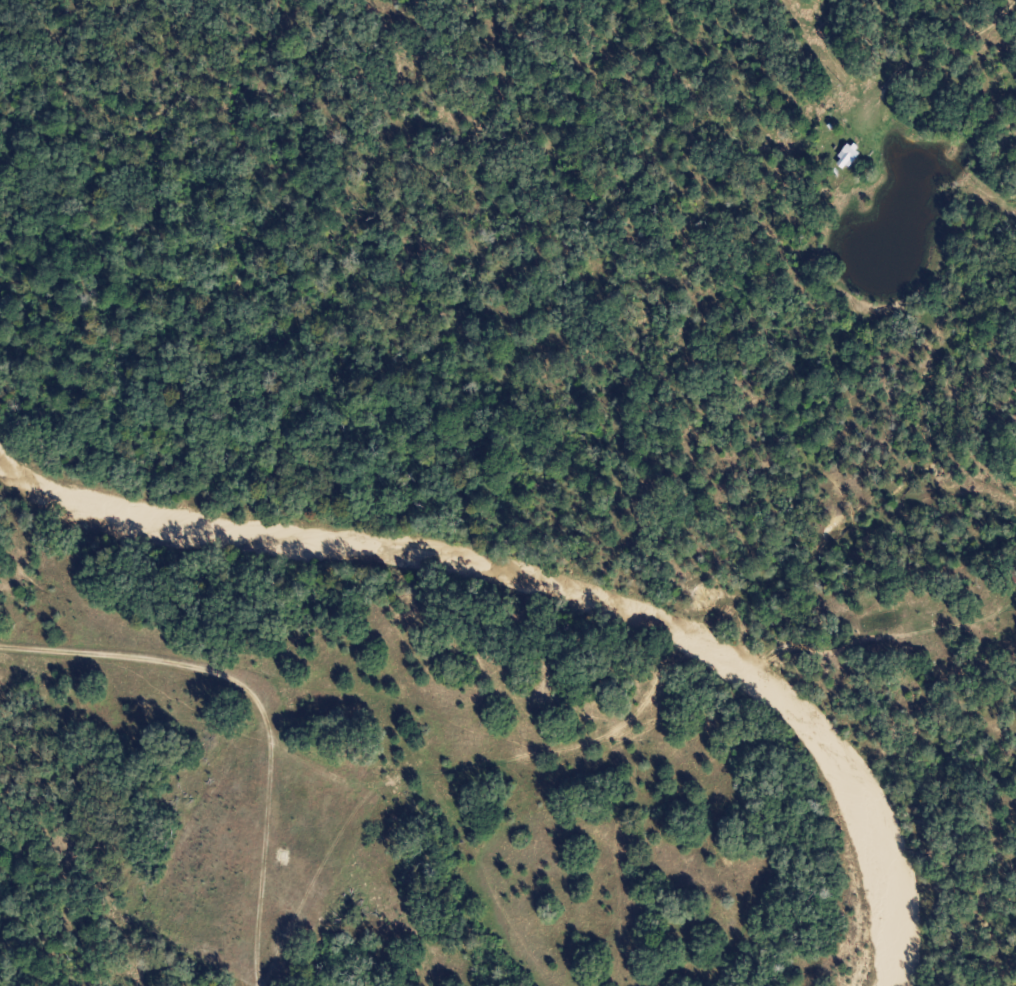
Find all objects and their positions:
building: (845, 156)

